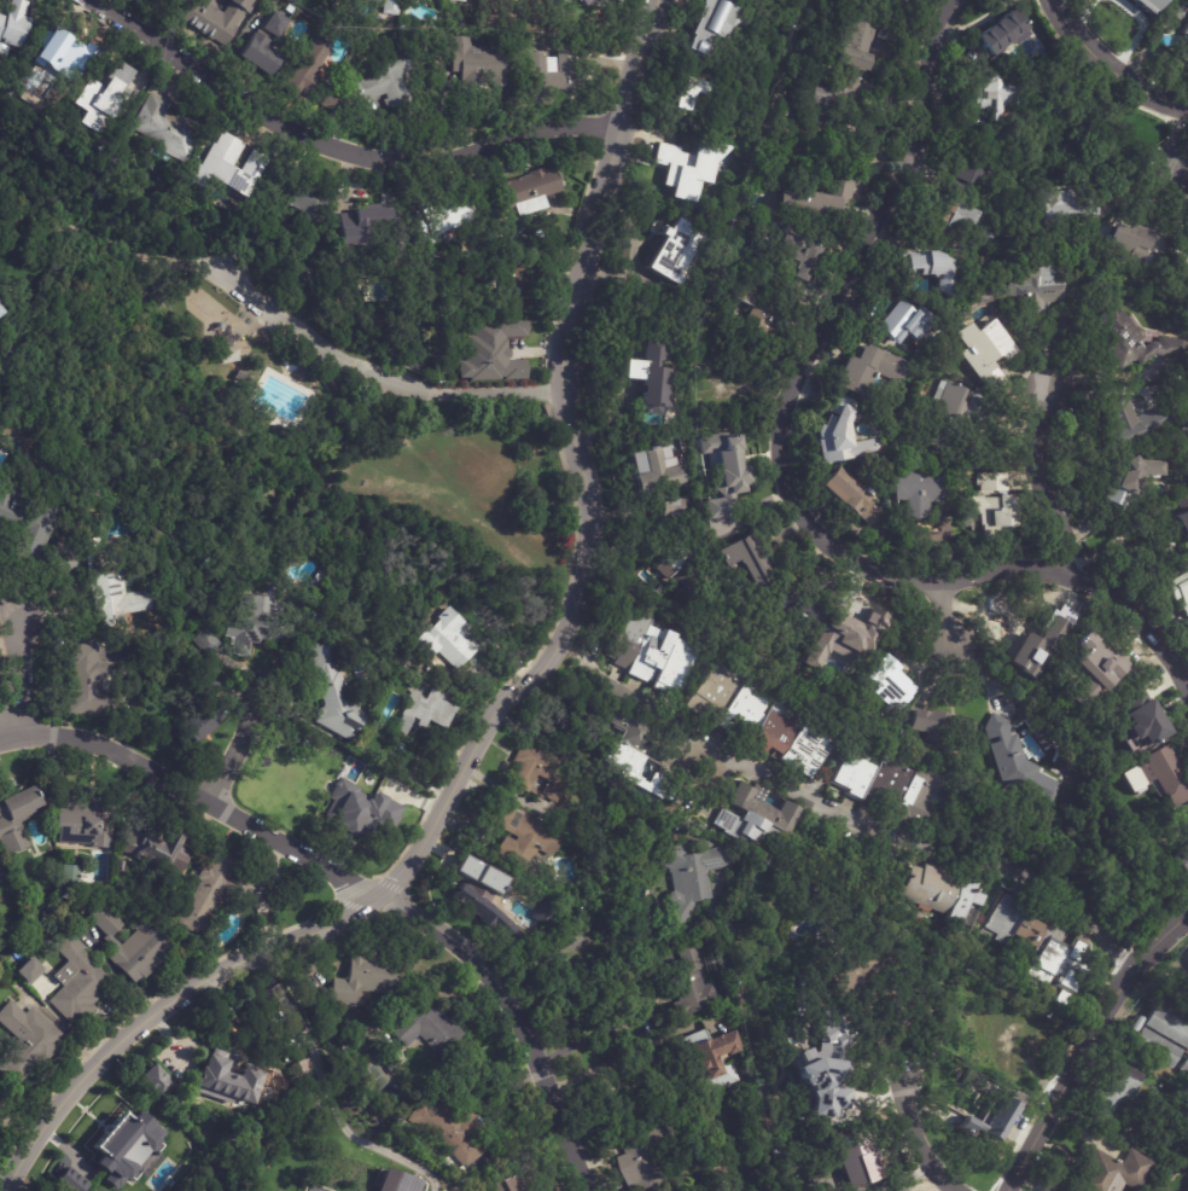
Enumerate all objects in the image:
building: (151, 0)
building: (181, 0)
building: (616, 0)
building: (371, 1)
building: (450, 1)
building: (589, 2)
building: (902, 5)
building: (1148, 6)
building: (390, 7)
building: (290, 10)
building: (1180, 11)
building: (217, 19)
building: (707, 21)
building: (12, 24)
building: (887, 31)
building: (1000, 33)
building: (856, 40)
building: (1186, 42)
building: (264, 46)
building: (68, 48)
building: (474, 63)
building: (1023, 63)
road: (633, 64)
road: (1108, 68)
building: (551, 72)
building: (314, 79)
building: (390, 85)
building: (687, 92)
building: (996, 95)
building: (104, 98)
building: (829, 100)
building: (162, 128)
road: (331, 145)
road: (1178, 149)
building: (685, 151)
building: (225, 165)
building: (973, 173)
building: (761, 175)
building: (1118, 186)
building: (529, 191)
building: (815, 201)
building: (304, 202)
building: (1070, 208)
building: (441, 214)
building: (960, 222)
building: (371, 230)
building: (1130, 240)
road: (122, 251)
building: (676, 251)
building: (792, 255)
building: (931, 268)
building: (1186, 275)
building: (302, 277)
building: (523, 285)
building: (1038, 287)
building: (1183, 298)
building: (1, 312)
building: (485, 313)
building: (761, 313)
building: (904, 321)
building: (1068, 323)
building: (1129, 339)
building: (654, 349)
building: (983, 352)
building: (493, 353)
road: (565, 355)
road: (369, 370)
building: (867, 370)
building: (244, 377)
road: (391, 388)
building: (652, 396)
building: (954, 417)
building: (1129, 424)
building: (281, 431)
building: (840, 435)
building: (651, 472)
road: (786, 475)
road: (1036, 478)
building: (1131, 481)
building: (724, 482)
building: (918, 488)
building: (851, 495)
building: (992, 505)
building: (671, 509)
building: (1183, 512)
building: (25, 524)
building: (747, 557)
building: (683, 568)
building: (315, 580)
building: (111, 587)
road: (571, 592)
building: (1178, 592)
building: (804, 603)
road: (945, 615)
building: (255, 623)
building: (1017, 631)
building: (444, 640)
building: (839, 641)
building: (205, 643)
building: (653, 653)
building: (1090, 666)
road: (22, 674)
building: (93, 684)
building: (889, 685)
building: (203, 689)
building: (331, 692)
building: (425, 710)
building: (1138, 719)
road: (670, 720)
building: (759, 721)
building: (198, 722)
building: (942, 728)
road: (10, 738)
road: (246, 743)
building: (637, 751)
building: (1011, 756)
building: (1052, 763)
building: (537, 771)
building: (293, 777)
building: (1158, 777)
building: (887, 789)
building: (369, 812)
building: (755, 817)
building: (14, 819)
building: (83, 824)
building: (523, 833)
building: (155, 849)
road: (933, 849)
building: (1182, 860)
building: (121, 866)
building: (70, 878)
building: (691, 879)
road: (367, 890)
building: (214, 894)
building: (488, 896)
building: (943, 900)
building: (546, 910)
road: (320, 926)
building: (1039, 942)
building: (132, 946)
road: (541, 957)
building: (17, 960)
building: (851, 969)
building: (29, 970)
building: (363, 982)
building: (77, 983)
building: (692, 984)
building: (1001, 1000)
building: (1169, 1028)
building: (429, 1032)
building: (25, 1042)
building: (1015, 1046)
road: (1088, 1046)
building: (356, 1048)
building: (1158, 1050)
road: (610, 1059)
building: (710, 1062)
building: (392, 1068)
building: (825, 1068)
building: (1186, 1068)
building: (223, 1080)
building: (156, 1083)
road: (331, 1093)
building: (2, 1094)
building: (1116, 1098)
building: (950, 1115)
building: (992, 1116)
building: (449, 1129)
road: (916, 1139)
building: (126, 1148)
building: (1187, 1156)
building: (856, 1158)
building: (647, 1160)
building: (1113, 1174)
building: (519, 1180)
building: (71, 1181)
building: (396, 1181)
building: (314, 1189)
building: (739, 1189)
building: (1187, 1190)

